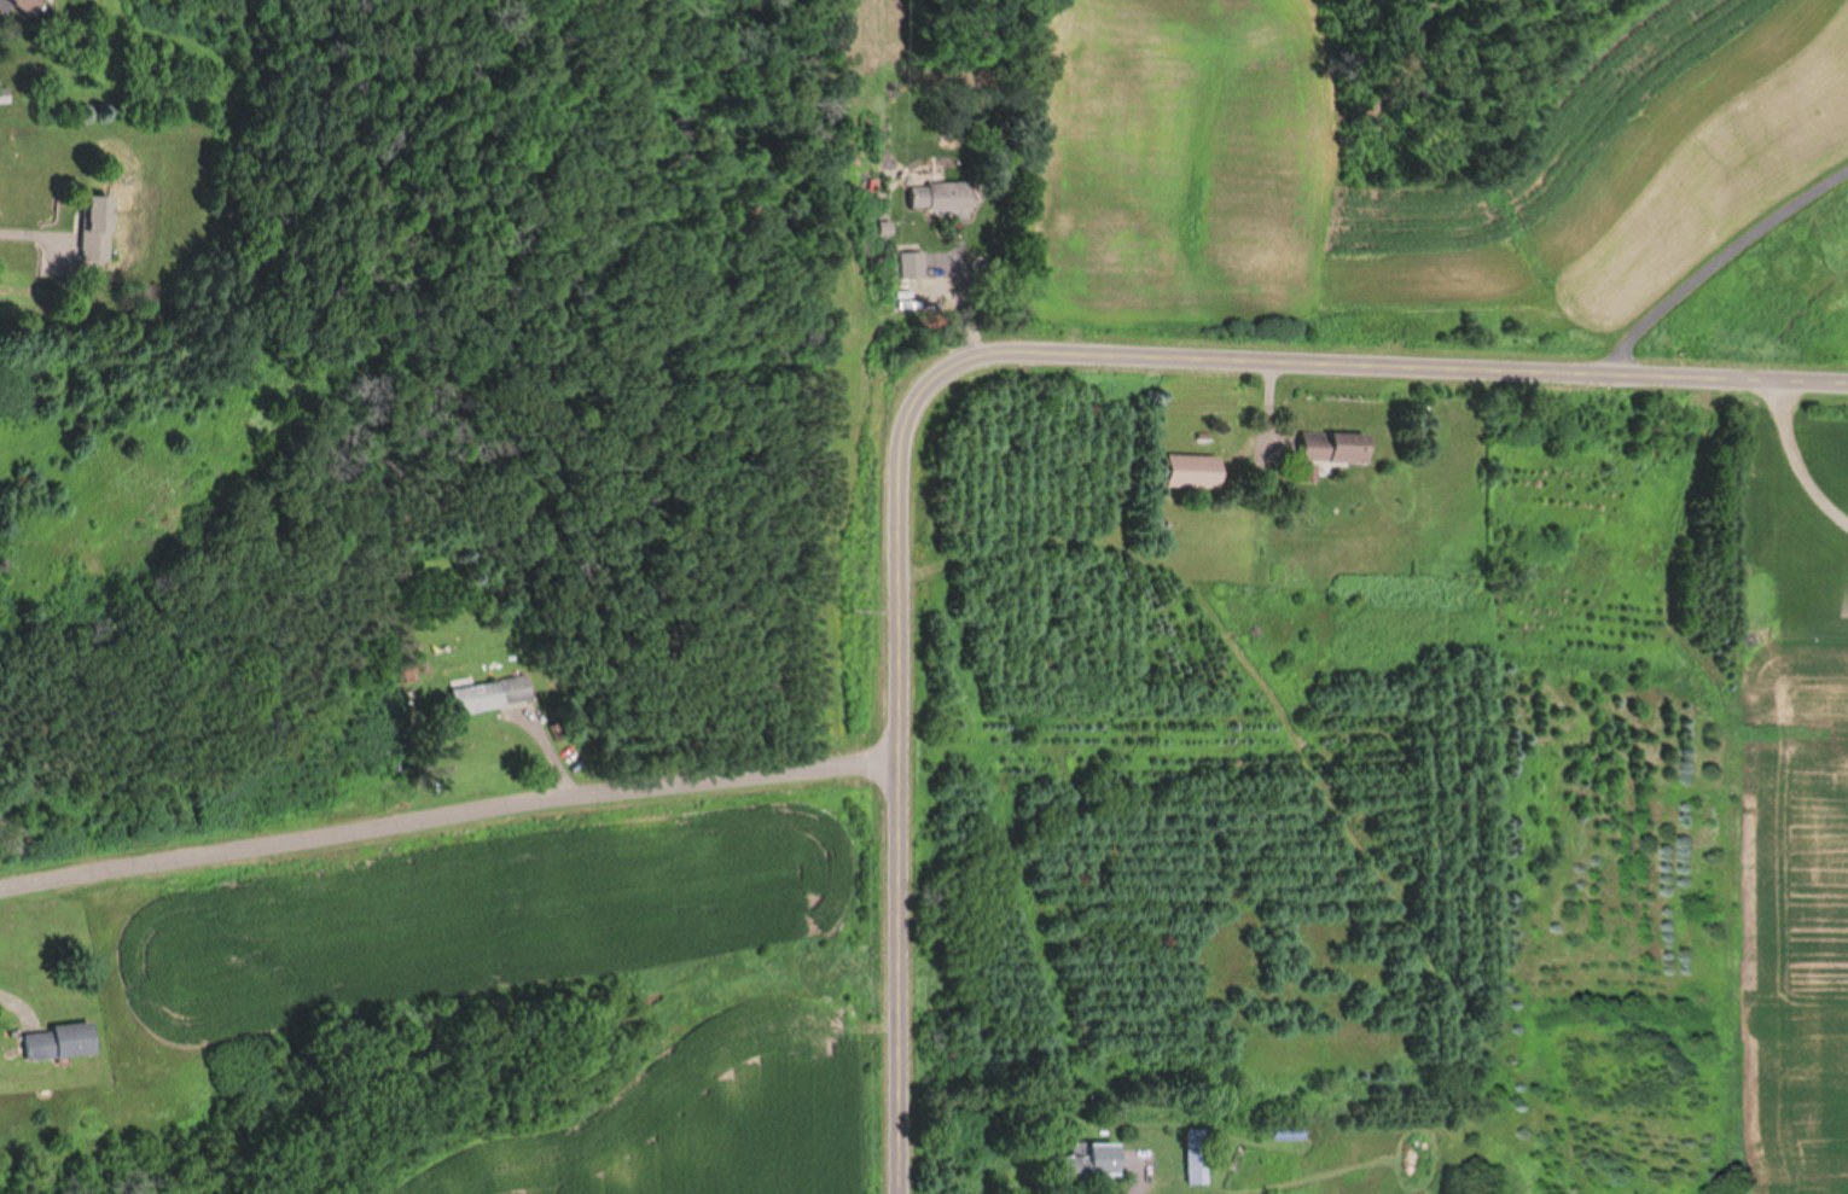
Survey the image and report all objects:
building: (39, 2)
building: (1, 93)
building: (932, 196)
building: (100, 220)
building: (86, 228)
road: (17, 232)
road: (1716, 266)
road: (976, 357)
building: (1329, 454)
road: (1788, 465)
building: (1189, 472)
power tower: (849, 611)
building: (495, 689)
road: (446, 812)
road: (12, 1001)
building: (64, 1039)
building: (1289, 1135)
building: (1204, 1149)
building: (1195, 1157)
building: (1080, 1163)
road: (1134, 1182)

